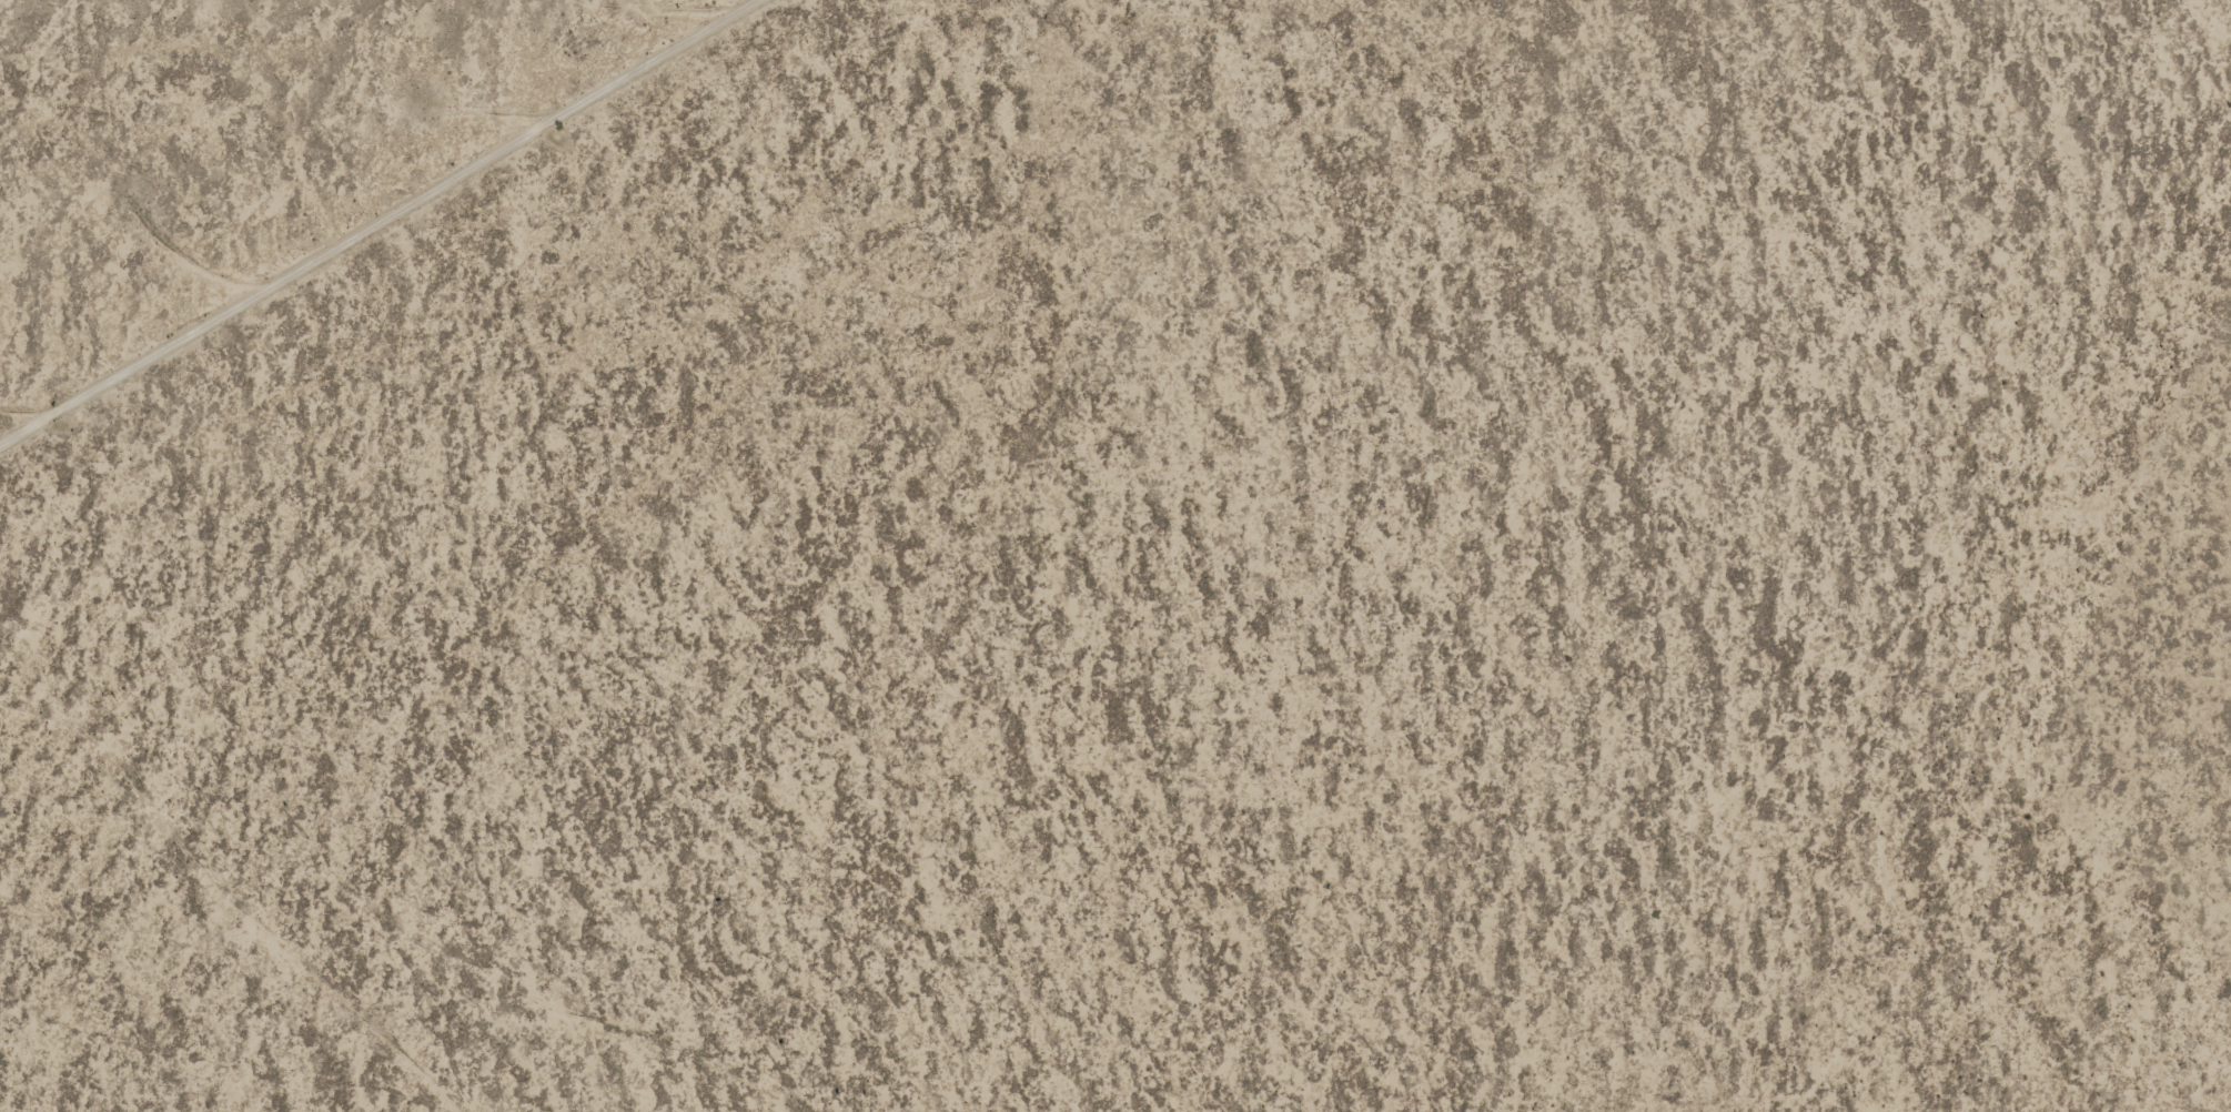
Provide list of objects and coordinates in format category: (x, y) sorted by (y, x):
road: (385, 226)

